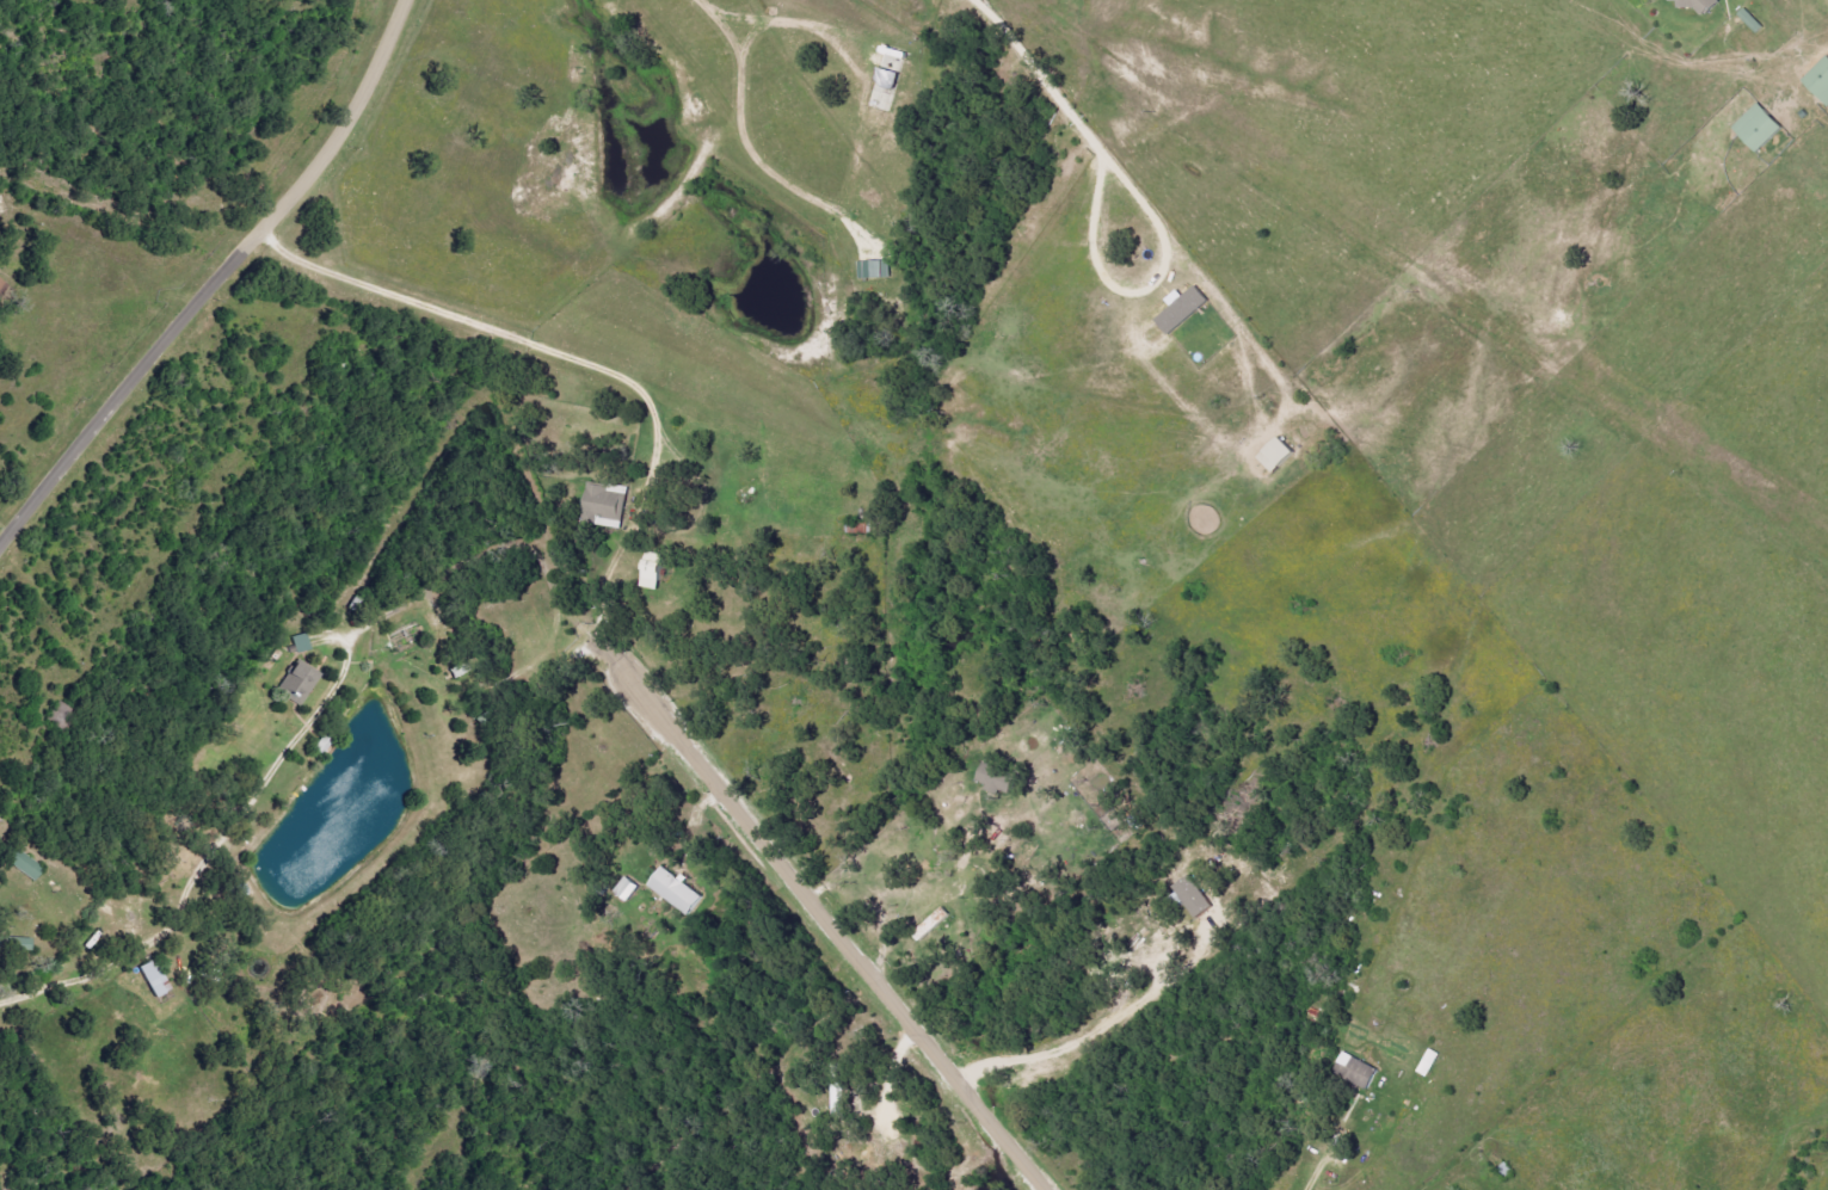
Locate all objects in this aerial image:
building: (1701, 5)
building: (1753, 20)
building: (1821, 81)
building: (1762, 128)
building: (878, 271)
road: (214, 279)
building: (1187, 312)
building: (1280, 455)
building: (609, 504)
building: (300, 683)
building: (1001, 779)
building: (23, 862)
building: (629, 889)
building: (679, 892)
building: (1198, 896)
road: (824, 925)
building: (21, 944)
building: (155, 979)
building: (1360, 1071)

